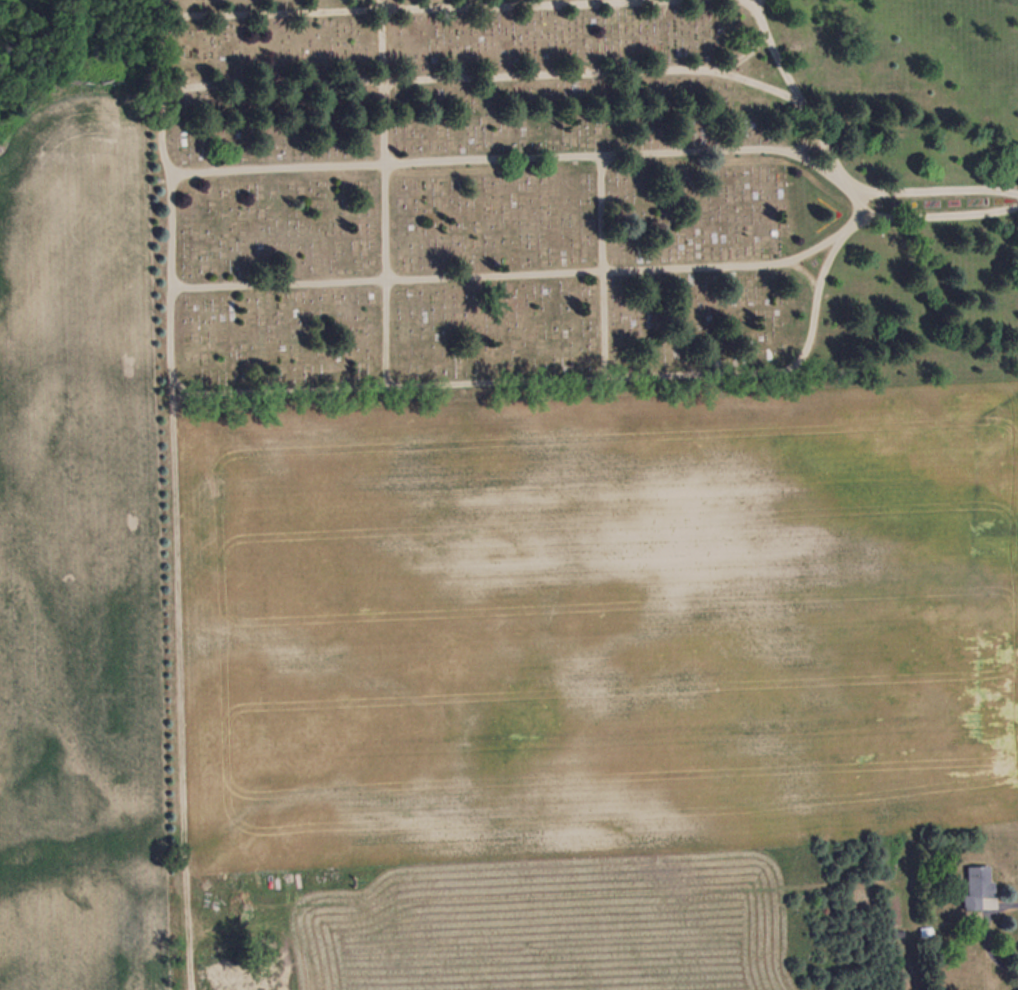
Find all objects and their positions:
park: (583, 194)
building: (977, 885)

